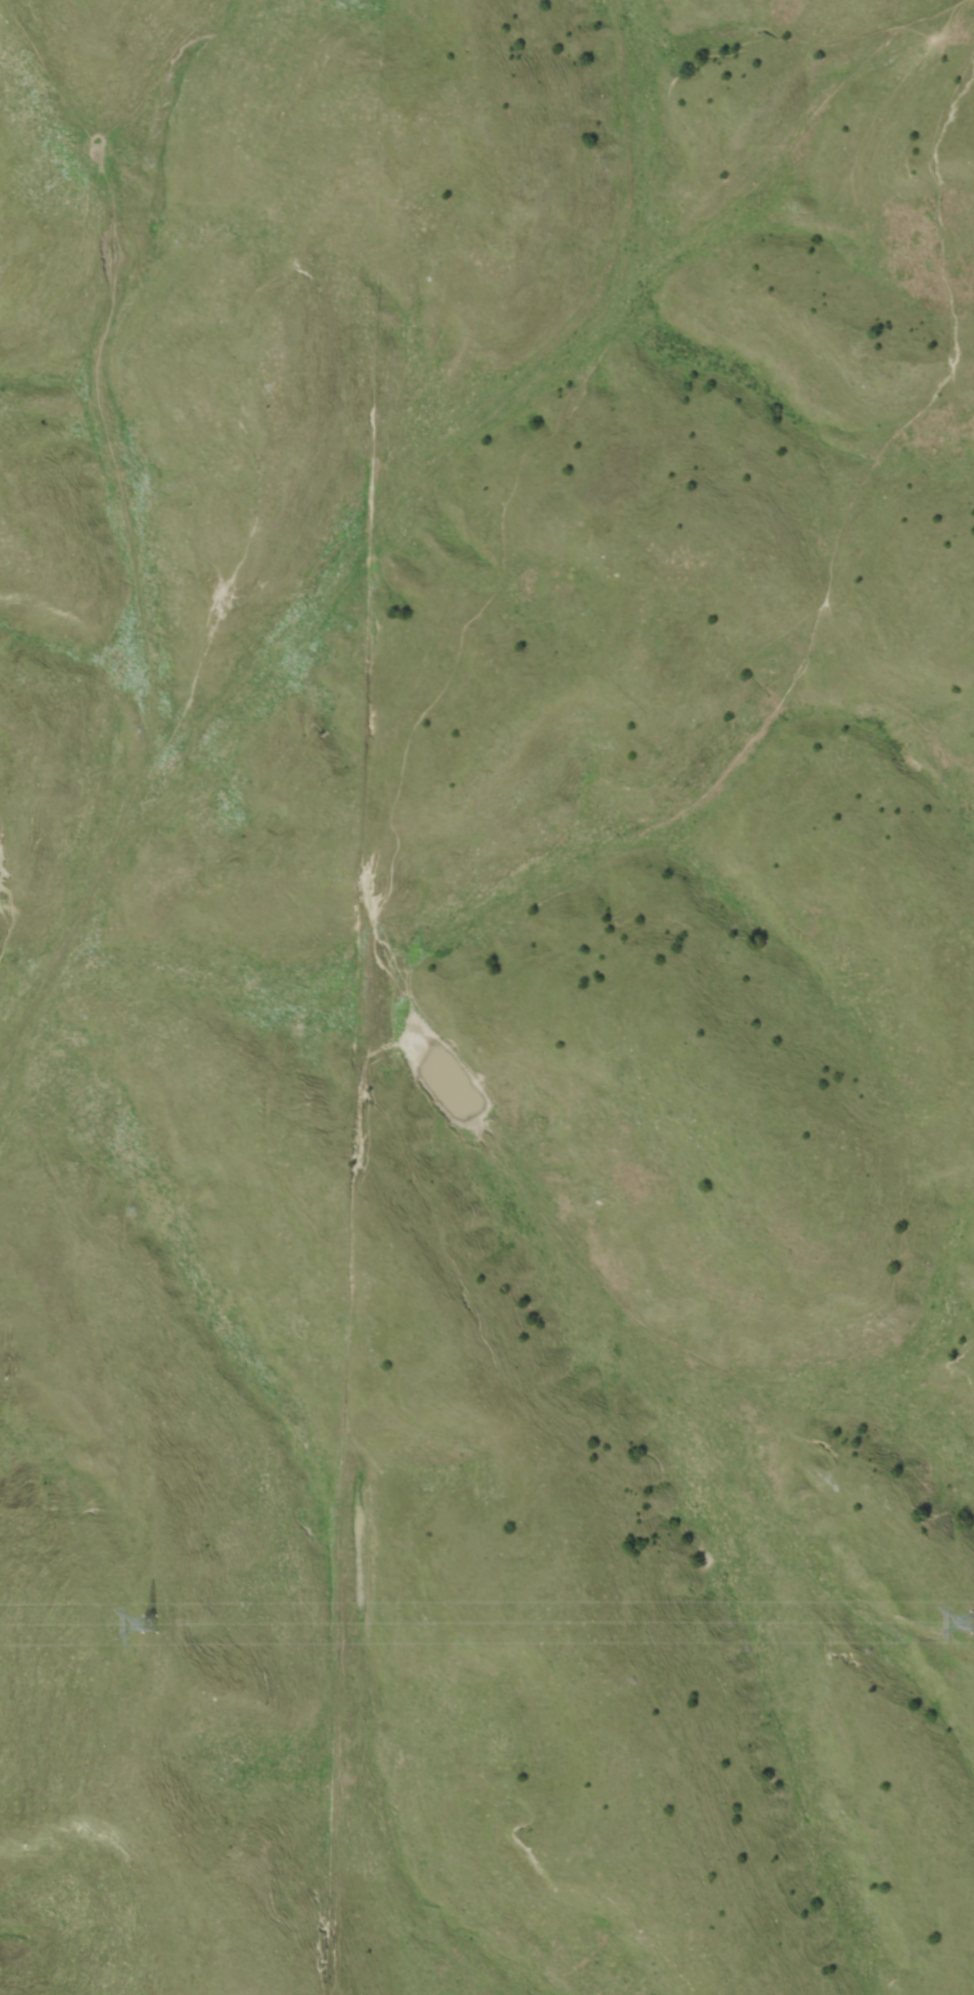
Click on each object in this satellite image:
power tower: (151, 1620)

